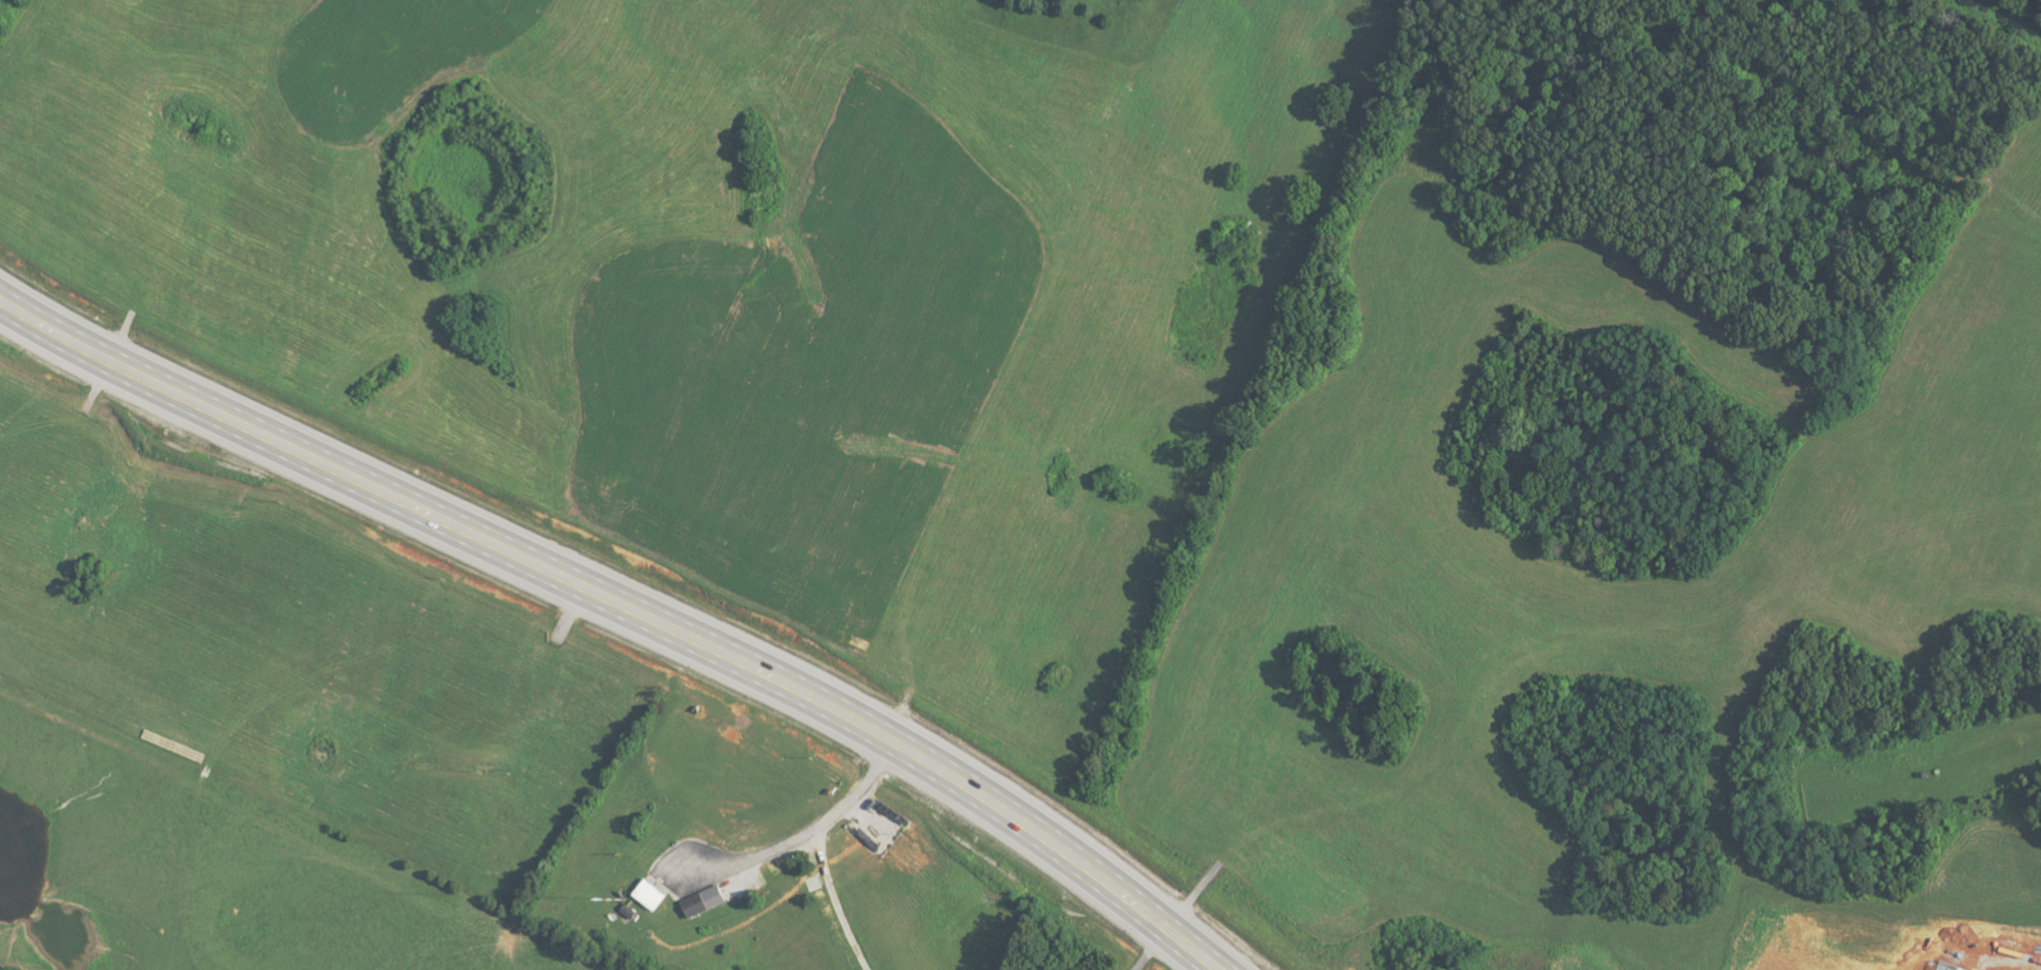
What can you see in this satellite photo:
road: (625, 607)
road: (222, 816)
road: (821, 821)
building: (653, 895)
building: (706, 902)
road: (834, 902)
building: (631, 912)

